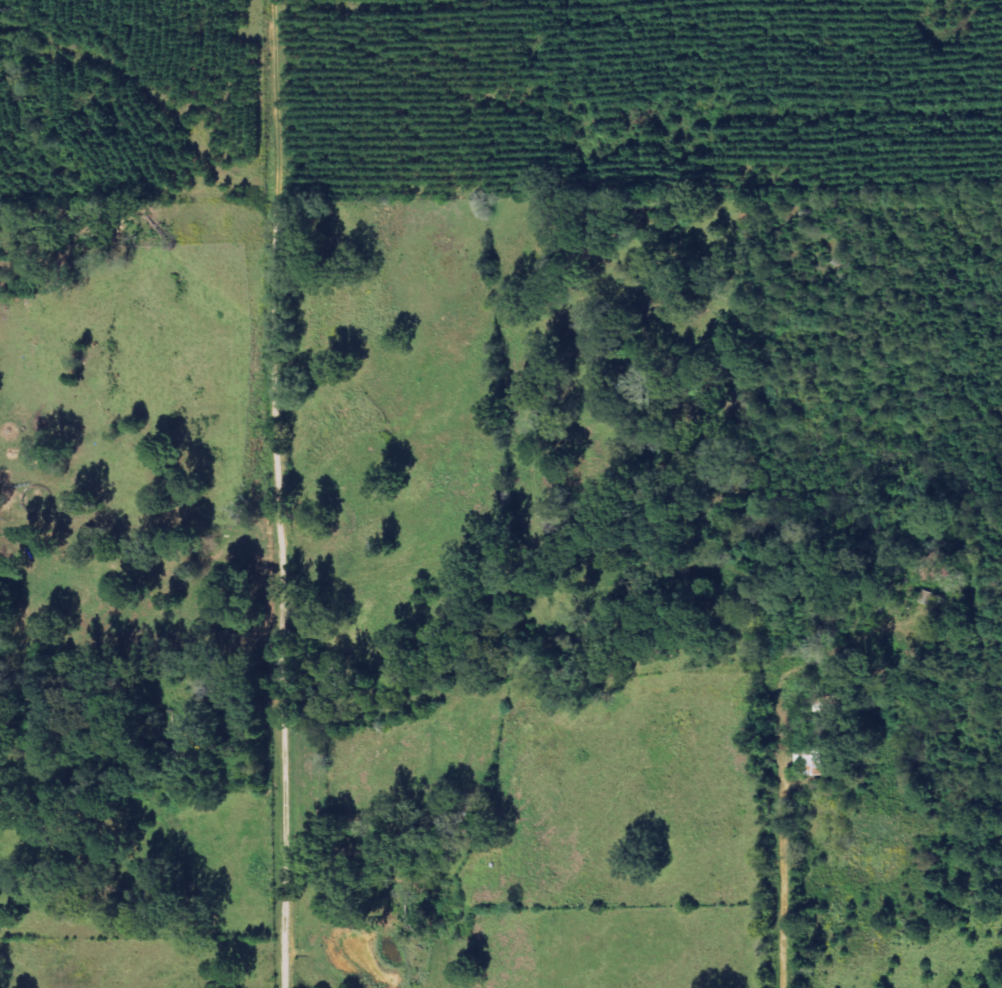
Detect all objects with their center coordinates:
road: (285, 849)
road: (707, 871)

